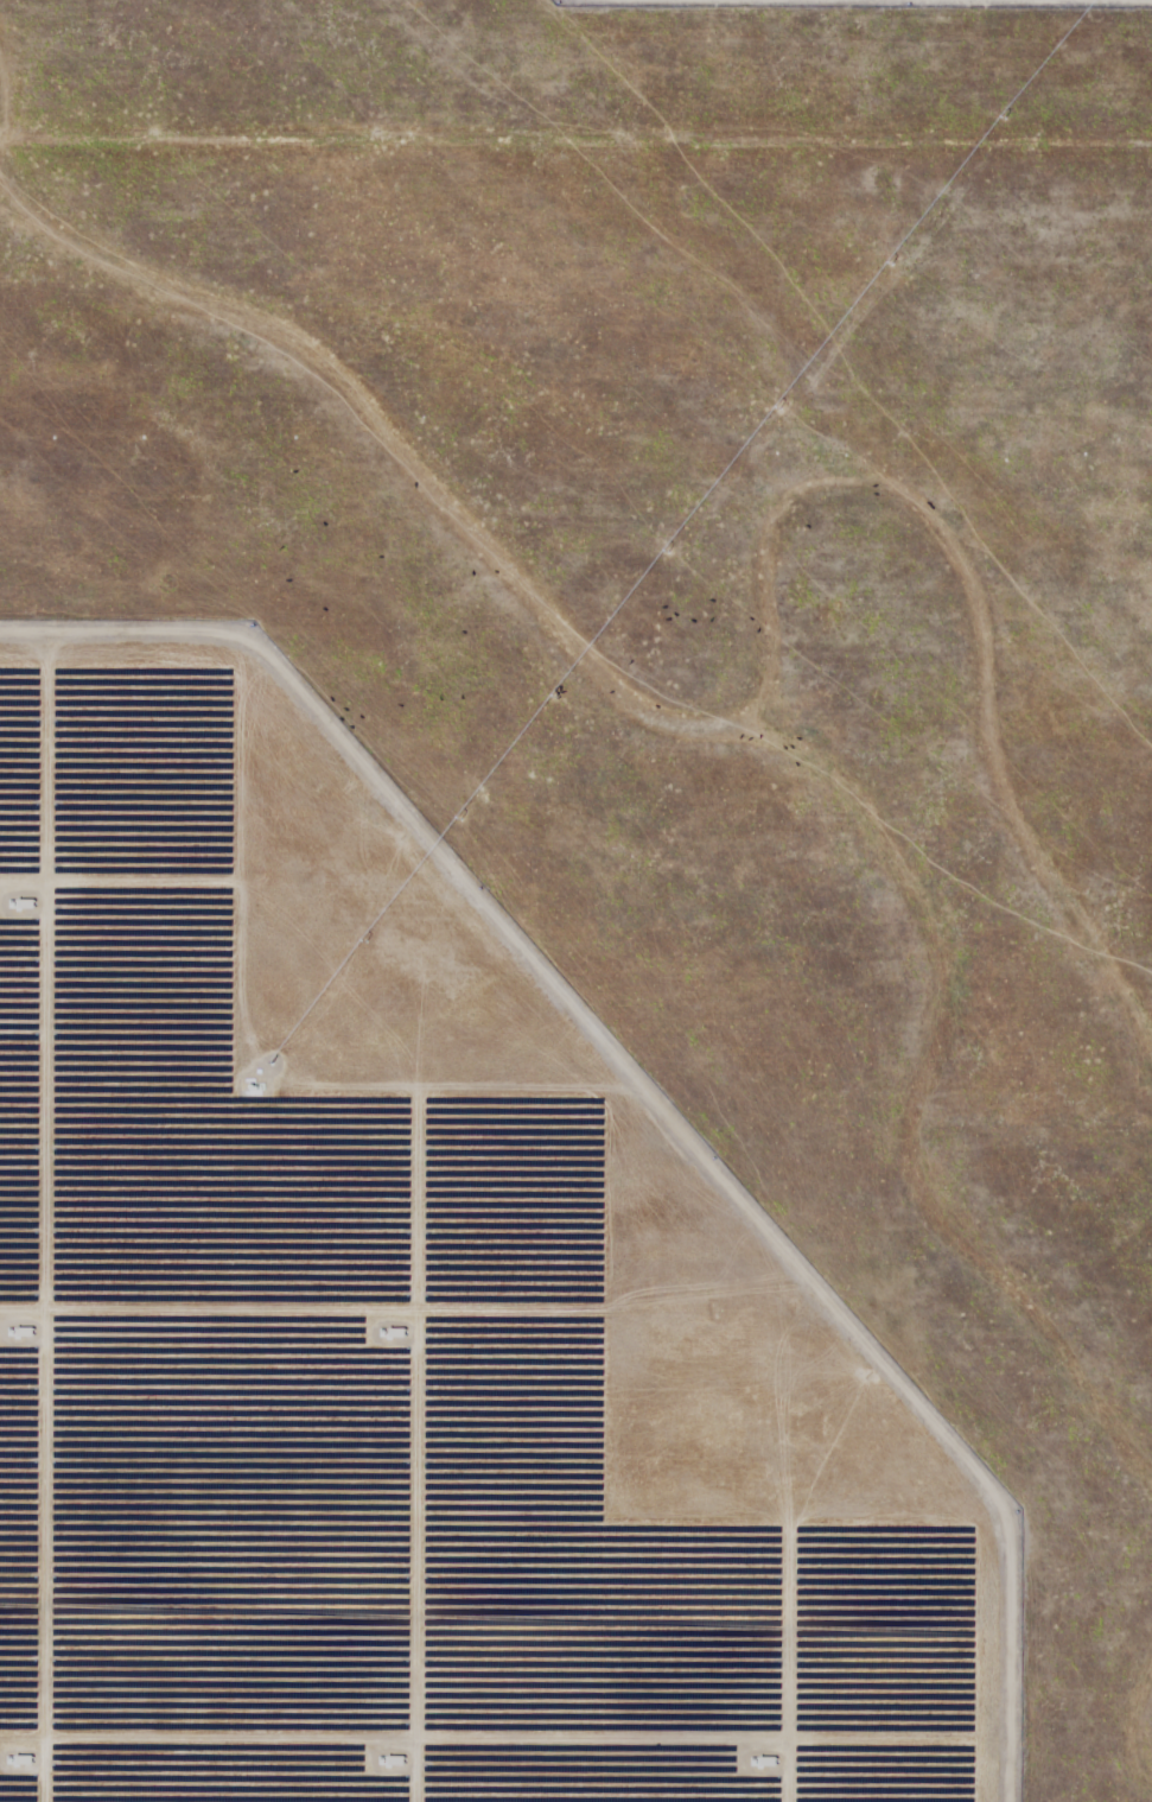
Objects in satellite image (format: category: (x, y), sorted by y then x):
road: (575, 63)
solar farm: (575, 901)

